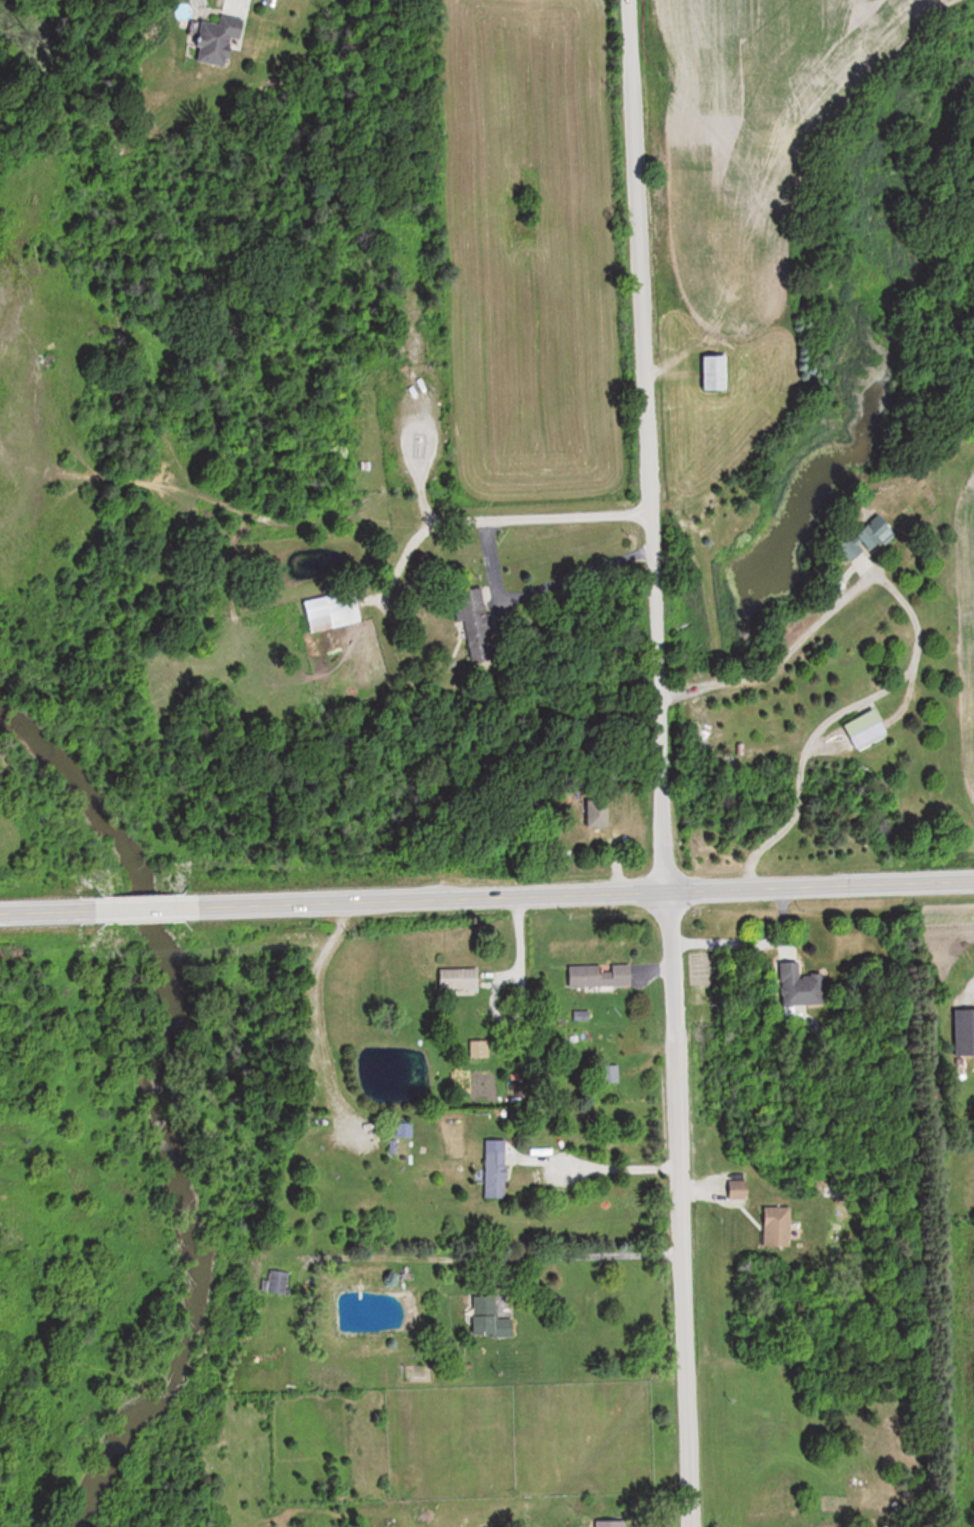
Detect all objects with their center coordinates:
building: (219, 42)
building: (717, 372)
building: (874, 532)
building: (850, 549)
road: (490, 552)
building: (473, 603)
building: (334, 612)
building: (471, 628)
road: (915, 631)
building: (866, 729)
road: (657, 763)
building: (596, 814)
road: (487, 895)
road: (748, 941)
building: (600, 975)
building: (459, 979)
building: (796, 987)
road: (309, 1006)
building: (965, 1031)
building: (626, 1044)
building: (480, 1049)
road: (609, 1173)
building: (495, 1174)
building: (737, 1189)
building: (776, 1227)
road: (593, 1256)
building: (277, 1282)
building: (489, 1318)

